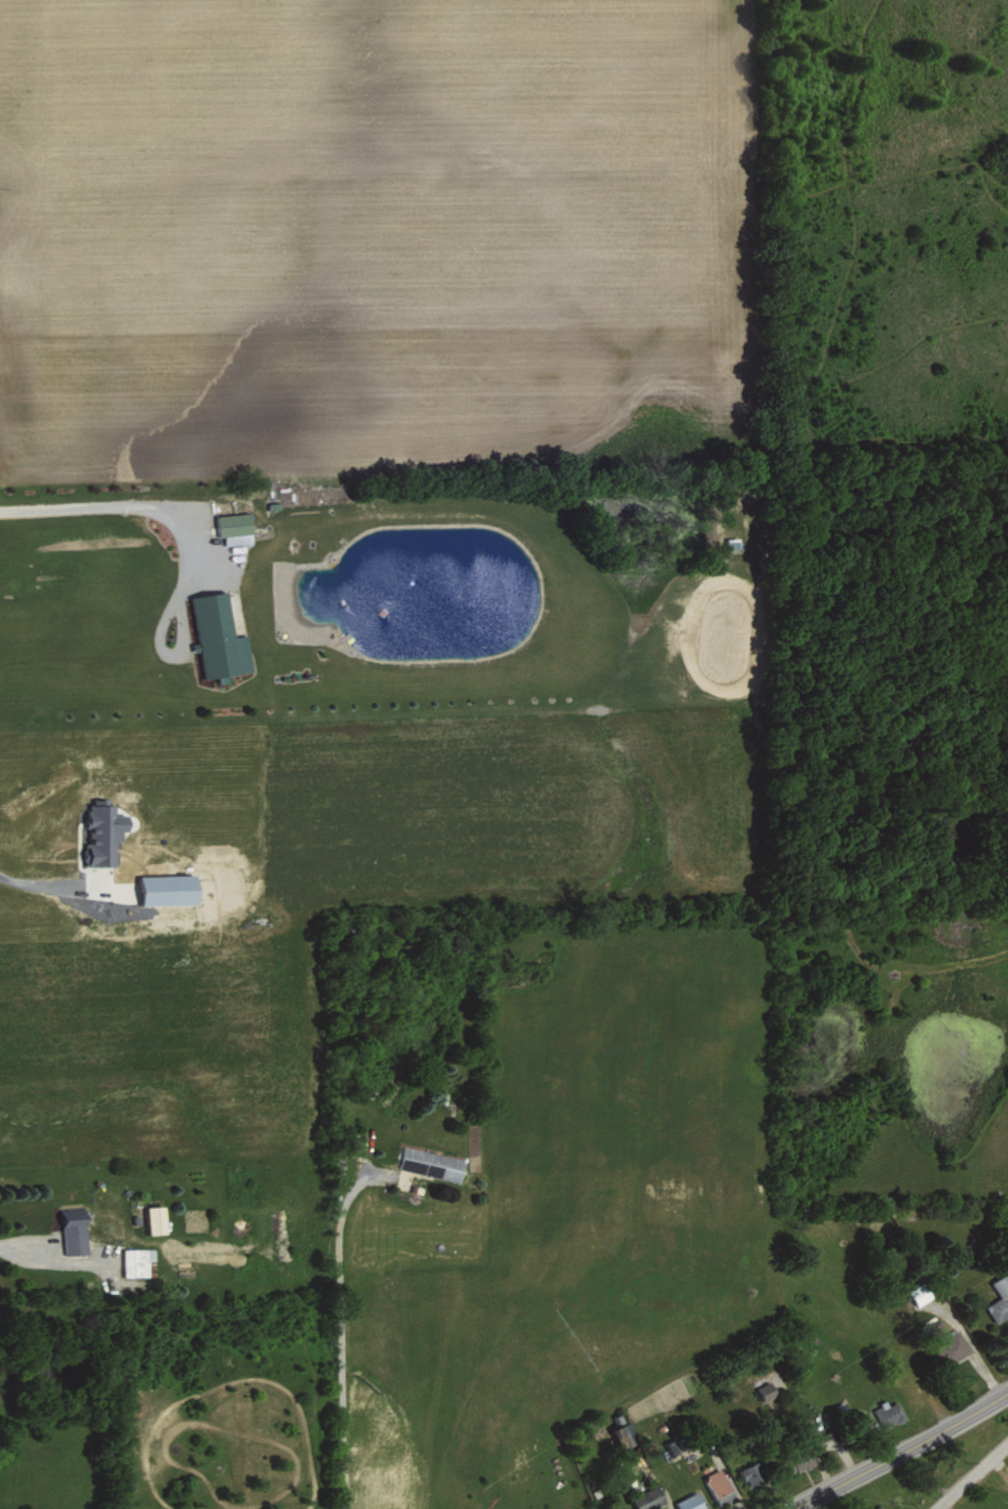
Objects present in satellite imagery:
road: (113, 503)
building: (235, 528)
building: (105, 834)
road: (39, 883)
building: (170, 889)
building: (430, 1163)
building: (156, 1218)
building: (75, 1235)
road: (18, 1255)
building: (136, 1261)
building: (920, 1292)
building: (999, 1298)
road: (340, 1336)
building: (955, 1343)
building: (888, 1413)
building: (623, 1433)
building: (671, 1447)
road: (904, 1451)
building: (801, 1460)
road: (972, 1473)
building: (753, 1474)
building: (717, 1485)
building: (649, 1498)
building: (690, 1502)
building: (879, 1507)

